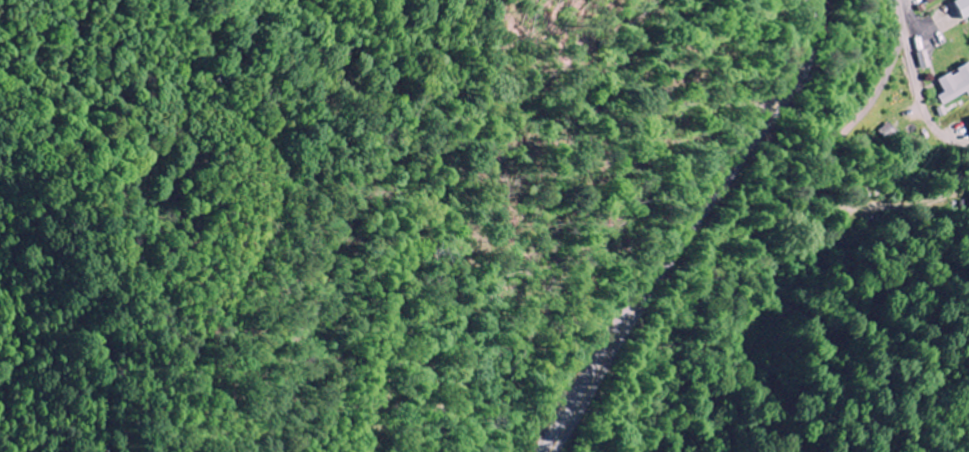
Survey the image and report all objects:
building: (934, 2)
building: (965, 8)
road: (918, 82)
building: (955, 86)
road: (930, 207)
road: (690, 227)

